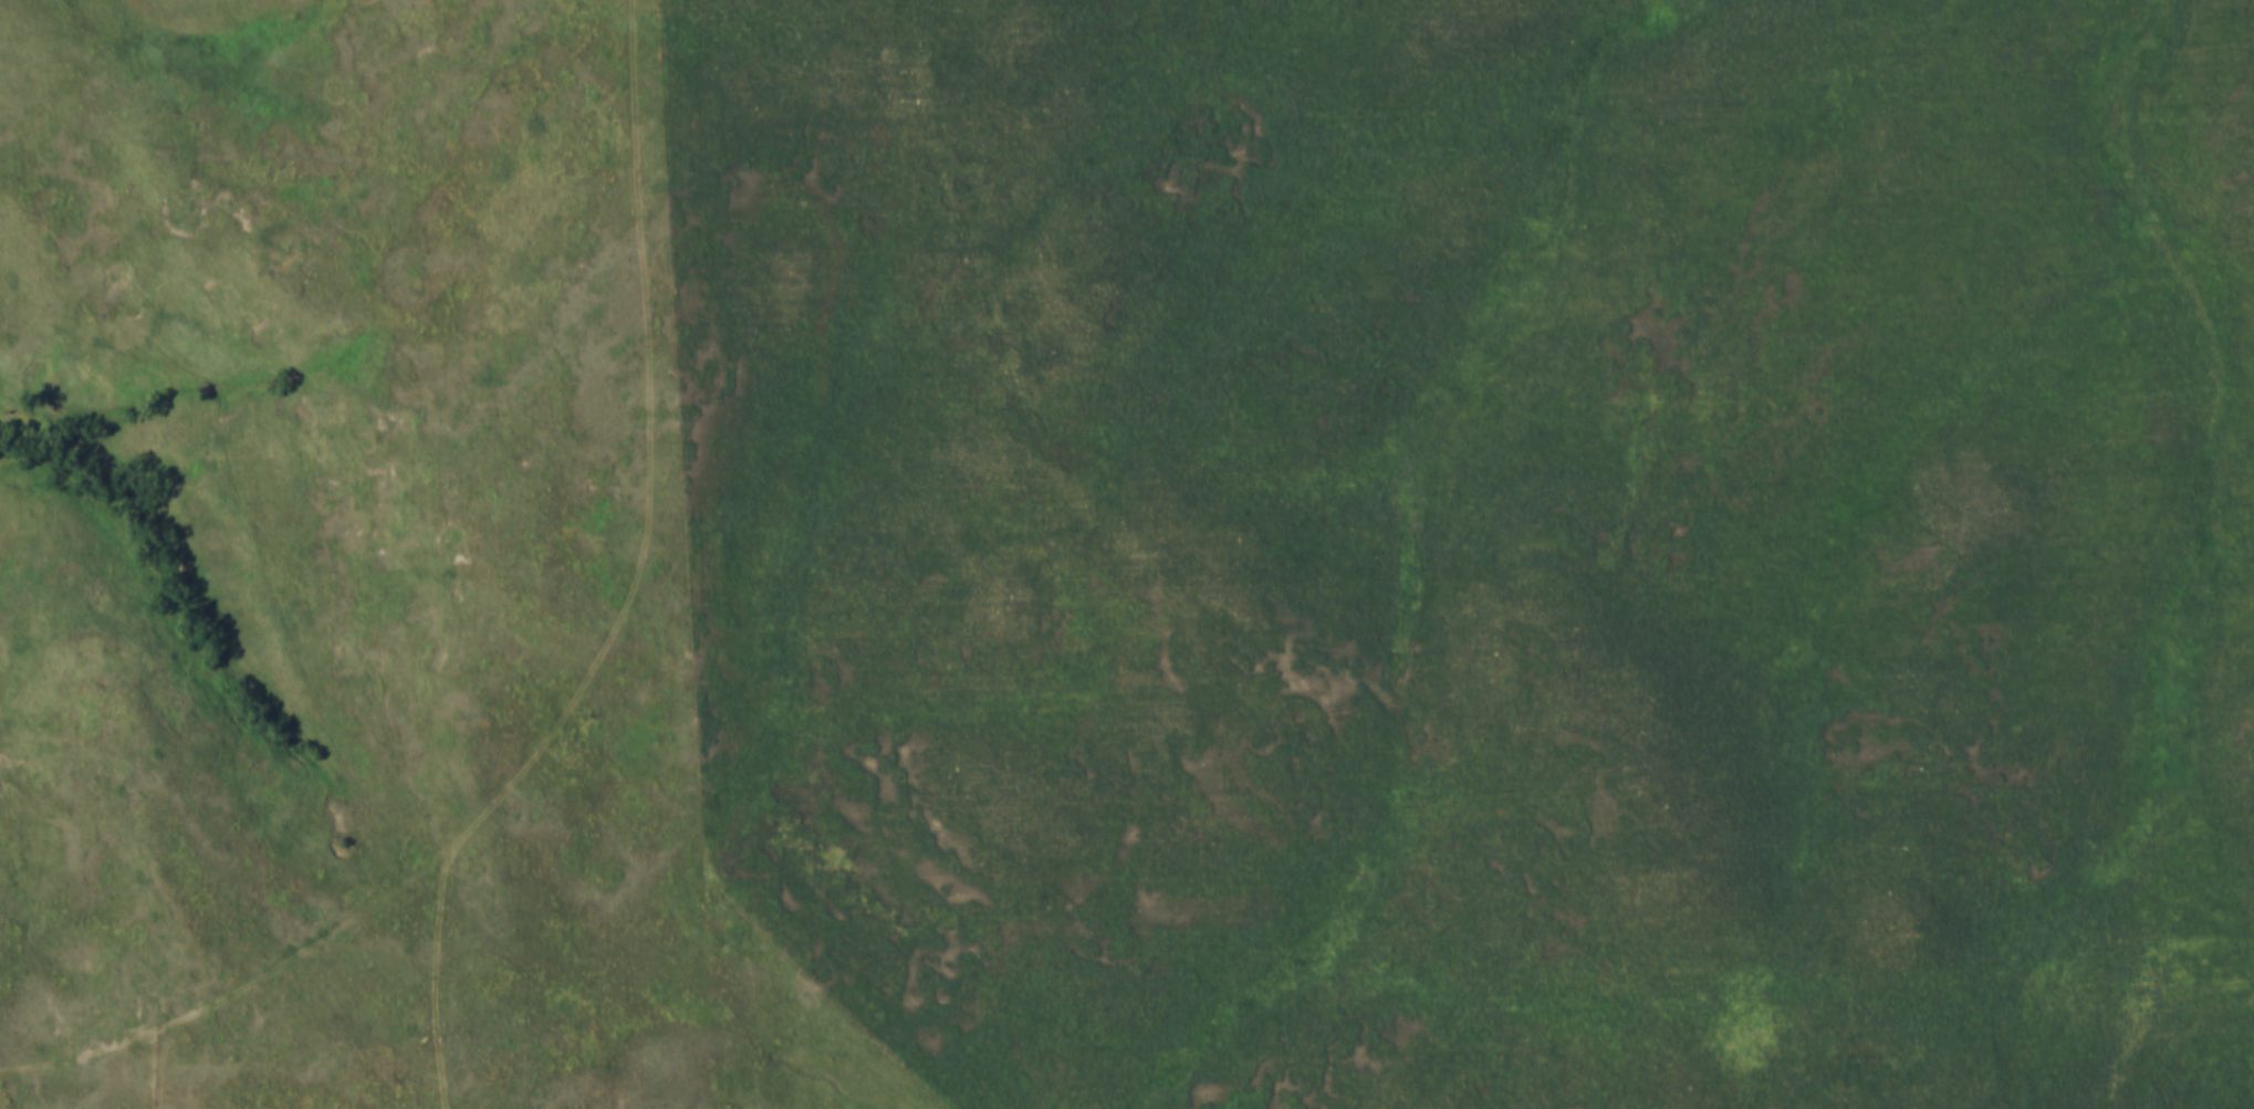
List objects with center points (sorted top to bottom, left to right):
road: (844, 332)
road: (731, 698)

